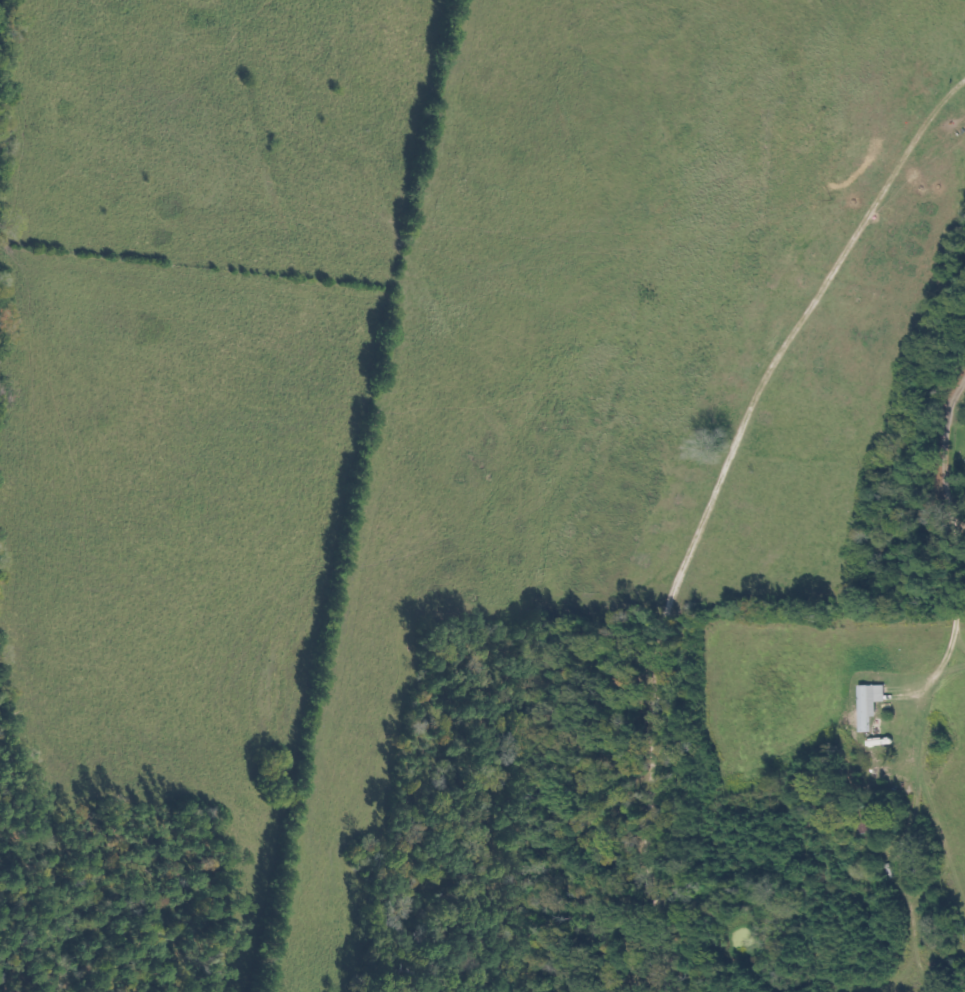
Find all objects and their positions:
road: (945, 478)
building: (866, 705)
building: (865, 817)

